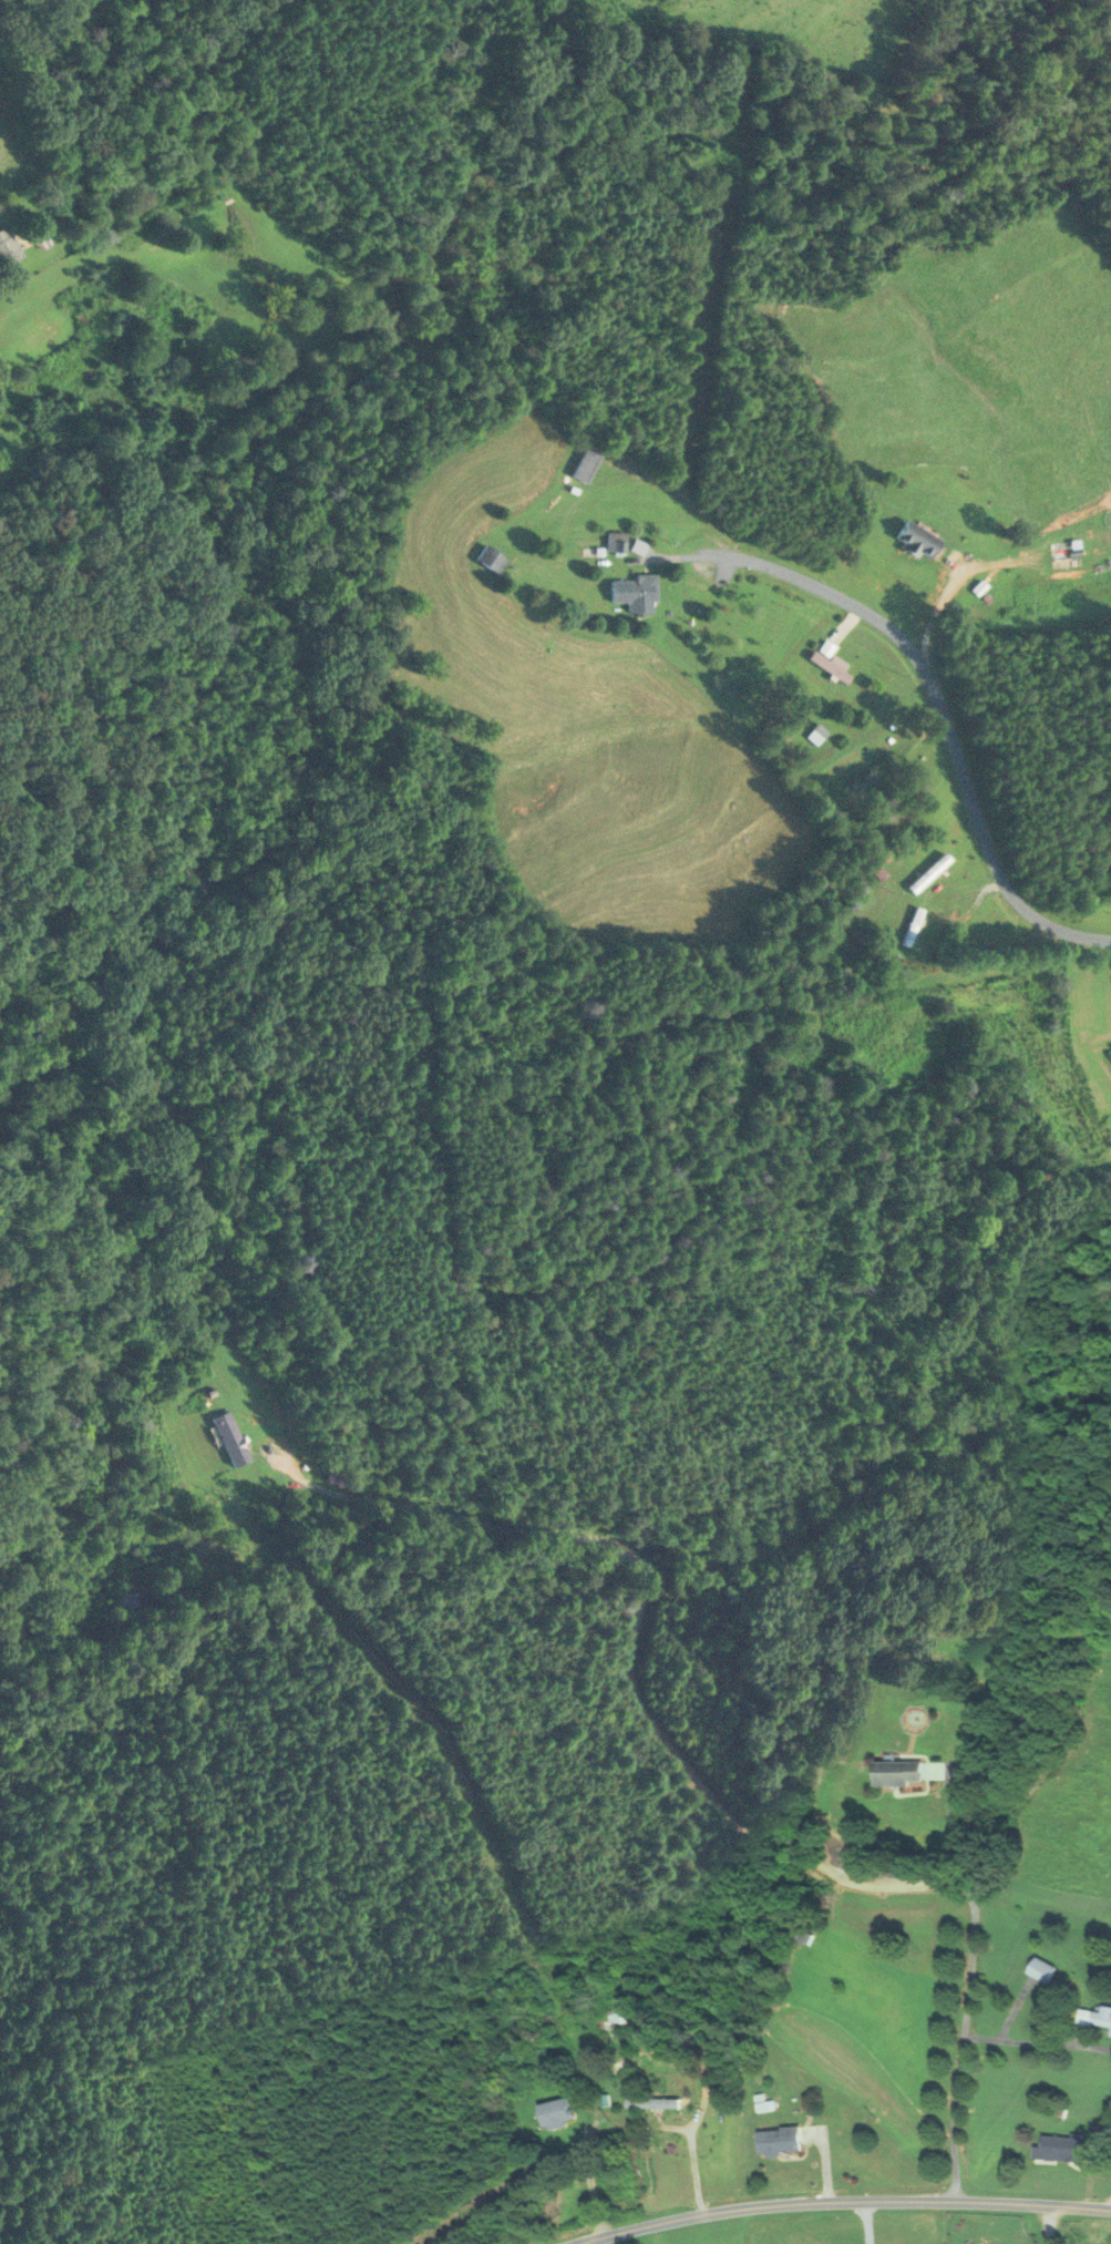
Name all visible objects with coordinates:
building: (7, 246)
building: (587, 462)
building: (918, 539)
building: (617, 540)
building: (1066, 549)
building: (493, 557)
building: (637, 591)
building: (831, 659)
road: (946, 687)
building: (817, 732)
building: (930, 872)
building: (914, 925)
building: (229, 1443)
building: (336, 1474)
building: (899, 1772)
road: (722, 1783)
road: (951, 1828)
building: (1042, 1969)
building: (1102, 2016)
building: (652, 2102)
building: (556, 2112)
building: (780, 2141)
building: (1067, 2149)
road: (853, 2206)
road: (1048, 2225)

